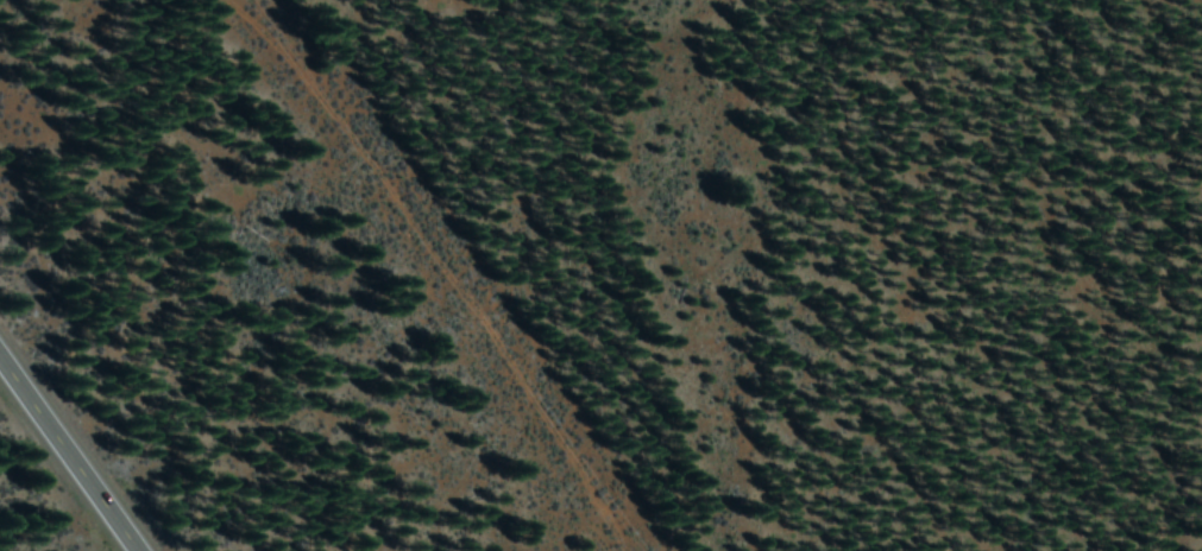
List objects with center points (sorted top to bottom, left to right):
road: (71, 450)

